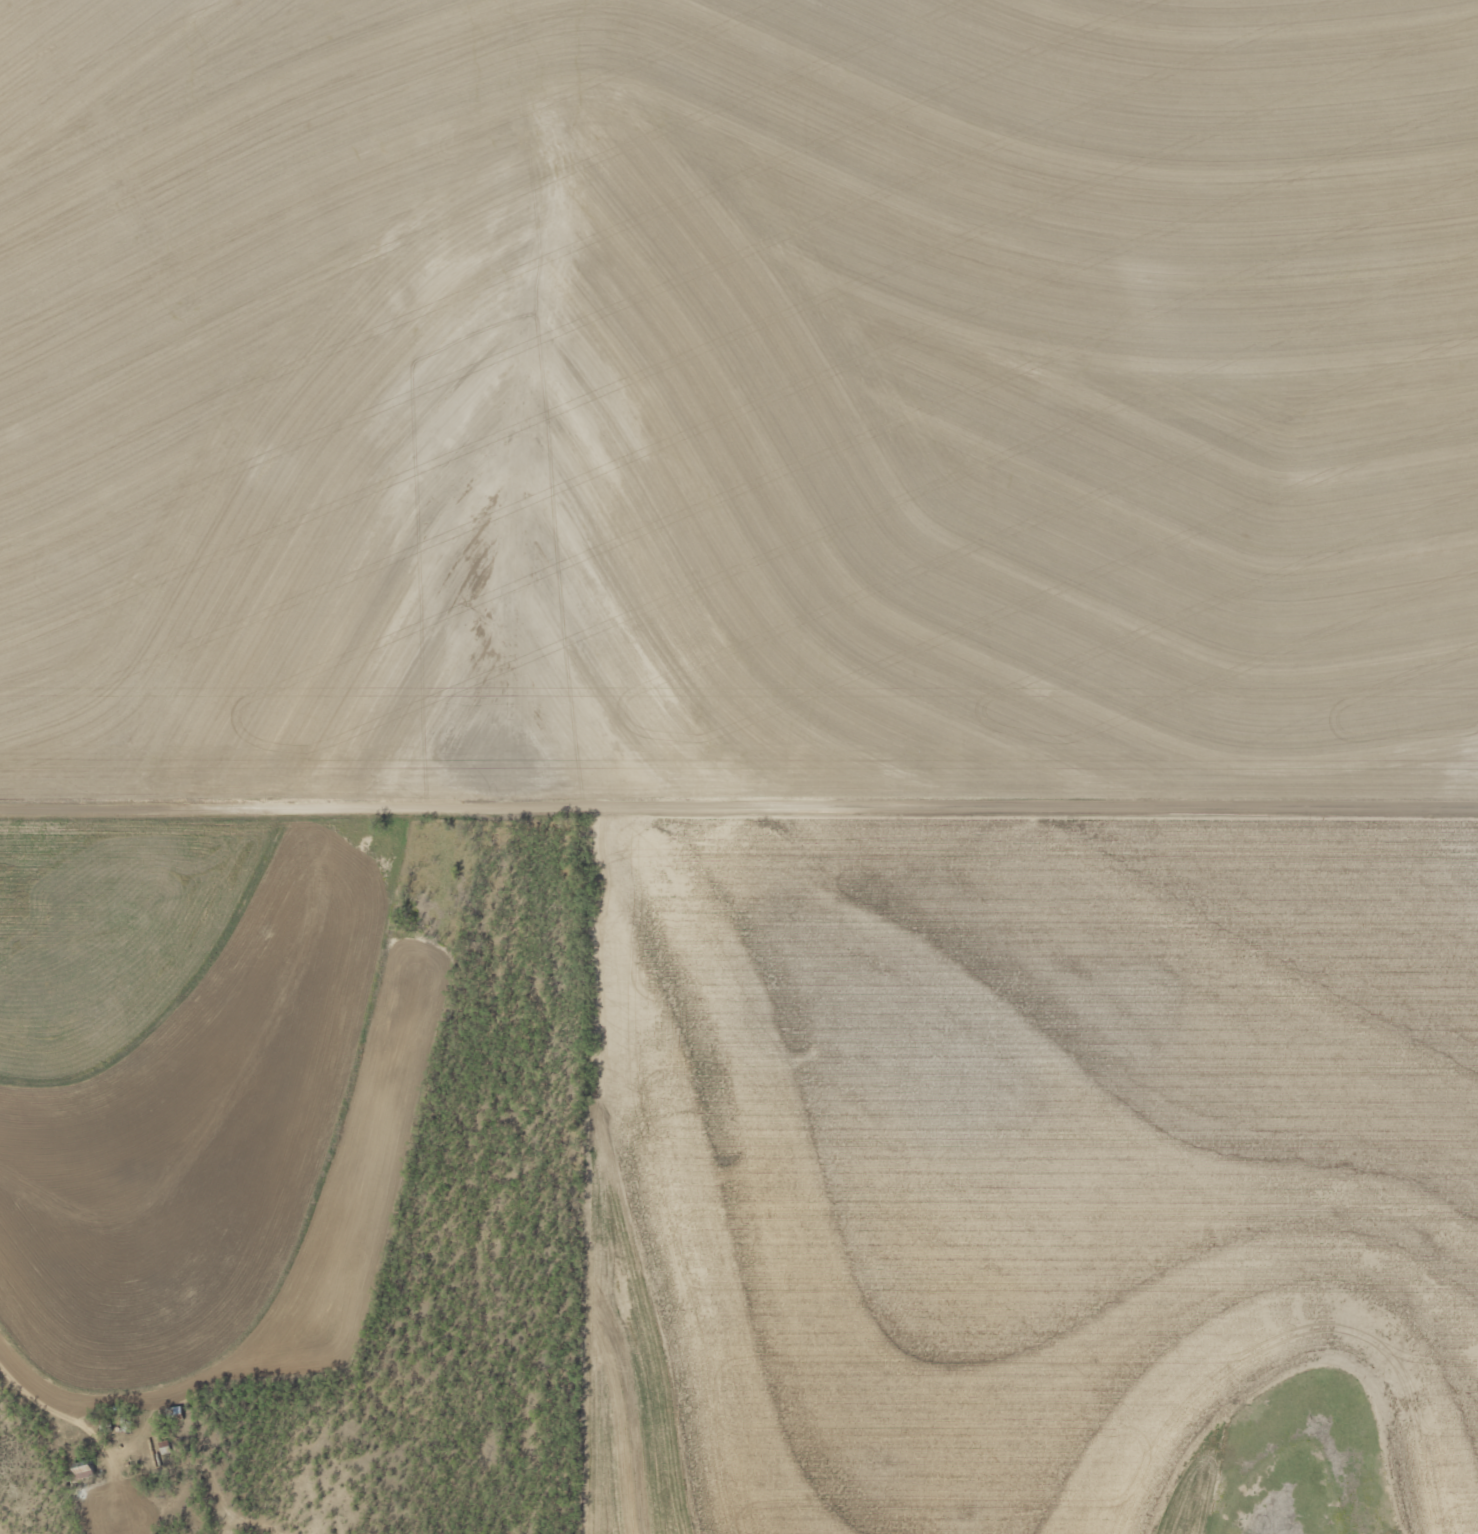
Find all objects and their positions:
road: (738, 793)

